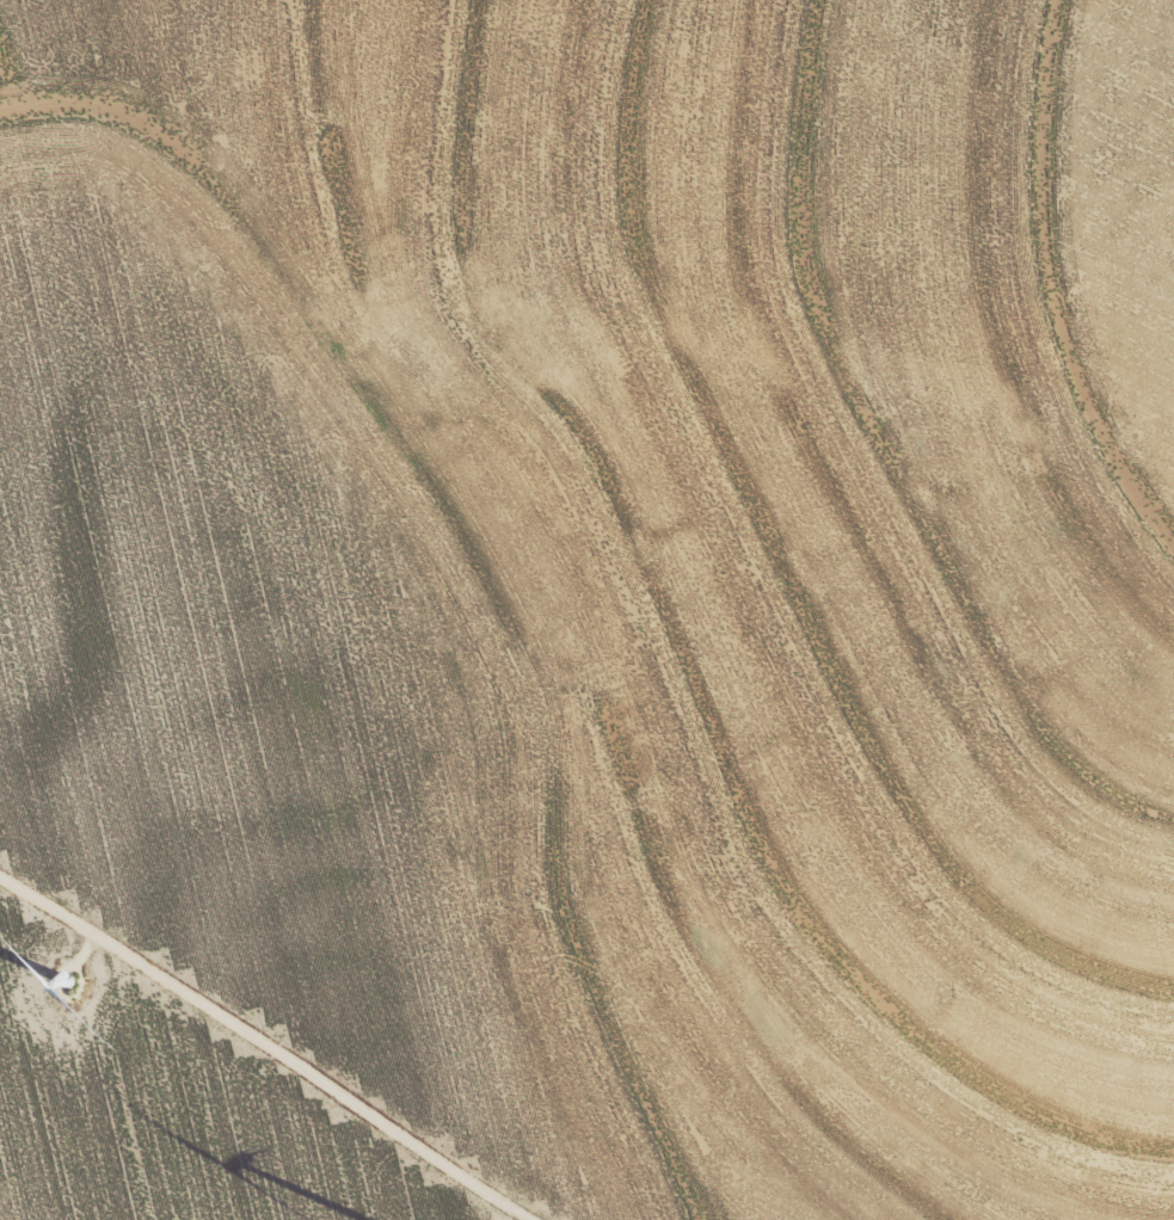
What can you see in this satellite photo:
wind turbine: (45, 985)
road: (272, 1046)

